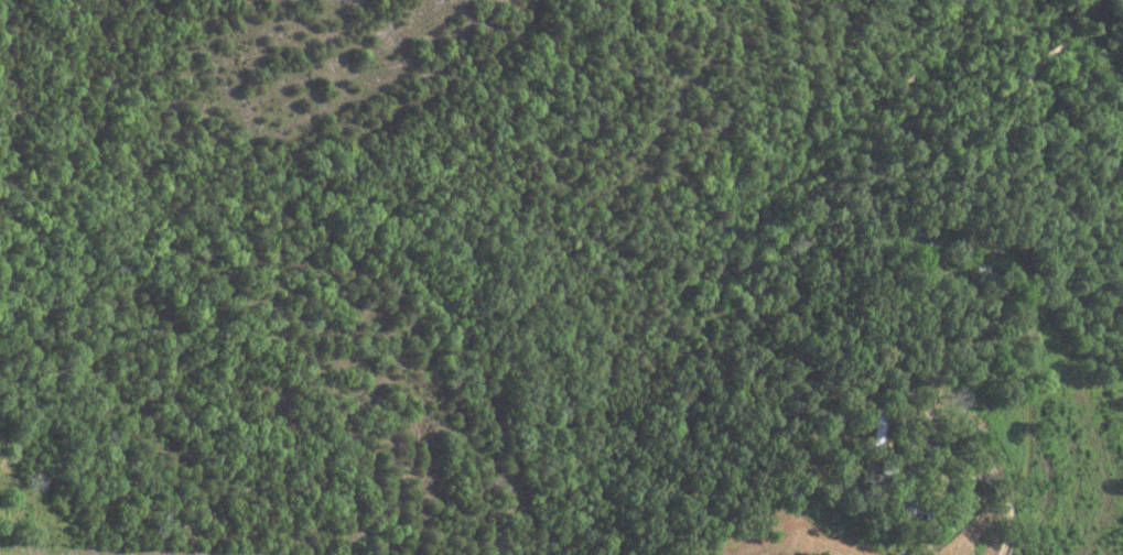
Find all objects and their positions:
road: (993, 486)

